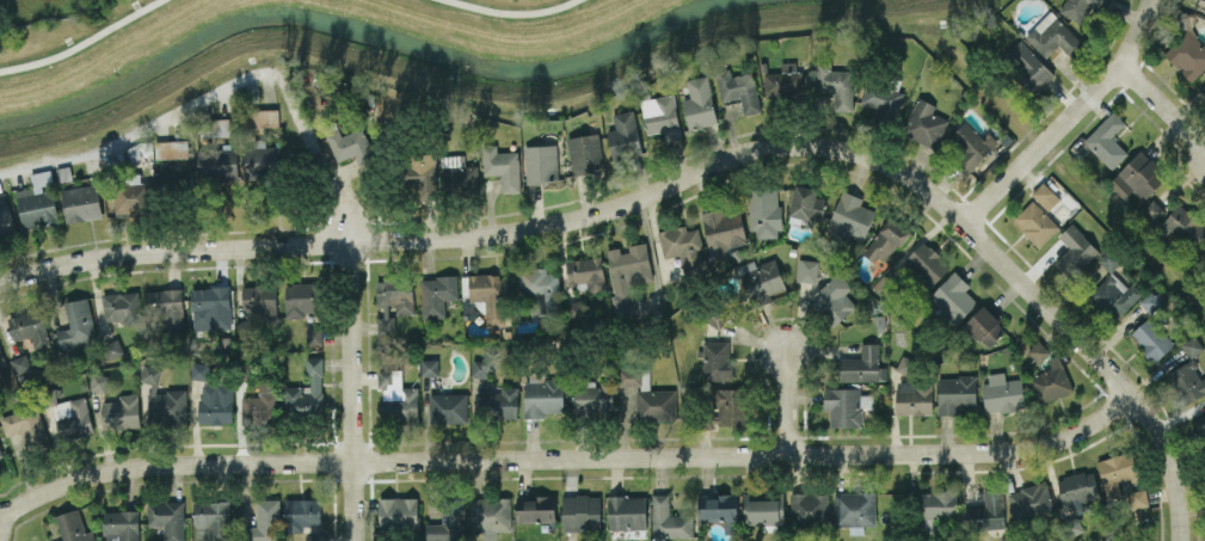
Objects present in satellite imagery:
building: (1204, 0)
building: (1081, 7)
wastewater plant: (37, 11)
road: (511, 12)
river: (344, 23)
building: (1053, 36)
road: (82, 42)
building: (1187, 54)
building: (1029, 63)
road: (626, 78)
building: (783, 81)
building: (835, 84)
road: (226, 86)
building: (739, 88)
building: (883, 99)
building: (699, 103)
road: (1164, 105)
building: (660, 116)
building: (263, 117)
road: (1068, 119)
building: (924, 122)
building: (215, 127)
building: (623, 134)
building: (1106, 140)
building: (970, 143)
building: (352, 147)
building: (171, 148)
building: (585, 153)
building: (263, 162)
building: (217, 164)
building: (541, 164)
building: (502, 166)
road: (1060, 166)
building: (422, 173)
building: (457, 173)
building: (170, 177)
building: (1139, 177)
building: (1045, 195)
building: (133, 196)
building: (37, 201)
building: (81, 203)
building: (807, 203)
road: (615, 207)
building: (1152, 209)
building: (764, 213)
building: (850, 216)
building: (6, 222)
building: (1035, 222)
building: (1185, 225)
building: (723, 230)
building: (886, 240)
building: (682, 246)
building: (1075, 250)
building: (927, 262)
building: (806, 270)
building: (584, 272)
building: (627, 273)
building: (762, 279)
building: (540, 288)
building: (436, 294)
building: (487, 294)
building: (1114, 295)
building: (953, 296)
building: (301, 299)
building: (832, 299)
building: (1154, 300)
building: (392, 301)
building: (122, 307)
building: (166, 307)
building: (256, 307)
building: (210, 308)
building: (578, 308)
building: (715, 318)
building: (76, 325)
building: (984, 326)
building: (30, 327)
building: (313, 336)
building: (1151, 338)
building: (1192, 345)
building: (112, 348)
building: (1038, 351)
building: (1, 358)
building: (718, 361)
building: (20, 363)
building: (860, 364)
building: (906, 365)
building: (429, 367)
building: (479, 368)
building: (199, 370)
building: (98, 381)
building: (1050, 381)
building: (1187, 382)
building: (306, 392)
road: (353, 392)
building: (955, 393)
building: (1002, 393)
building: (648, 394)
building: (592, 396)
building: (396, 398)
building: (542, 398)
building: (914, 398)
building: (162, 401)
building: (499, 401)
building: (215, 402)
road: (789, 402)
building: (260, 404)
building: (846, 405)
building: (730, 406)
building: (448, 407)
building: (121, 412)
building: (73, 418)
building: (1201, 424)
building: (26, 426)
building: (1, 454)
road: (566, 459)
road: (1169, 463)
building: (1117, 472)
building: (1077, 487)
building: (1138, 498)
building: (1029, 500)
building: (937, 504)
building: (809, 506)
building: (535, 508)
building: (763, 508)
building: (719, 510)
building: (854, 510)
building: (627, 511)
building: (986, 511)
building: (398, 512)
building: (580, 512)
building: (301, 514)
building: (490, 515)
building: (167, 518)
building: (669, 520)
building: (211, 521)
building: (263, 522)
building: (448, 522)
building: (121, 523)
building: (72, 527)

